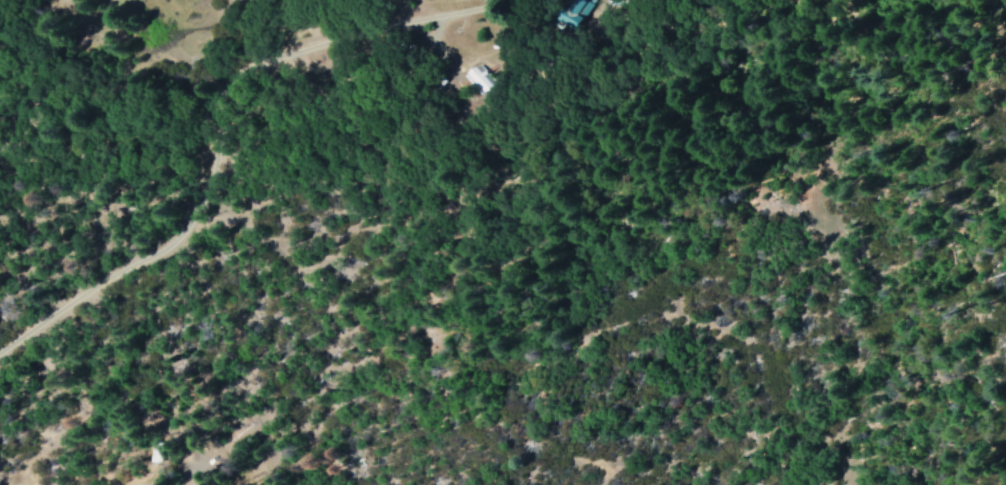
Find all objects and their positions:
building: (568, 12)
building: (476, 79)
road: (208, 187)

